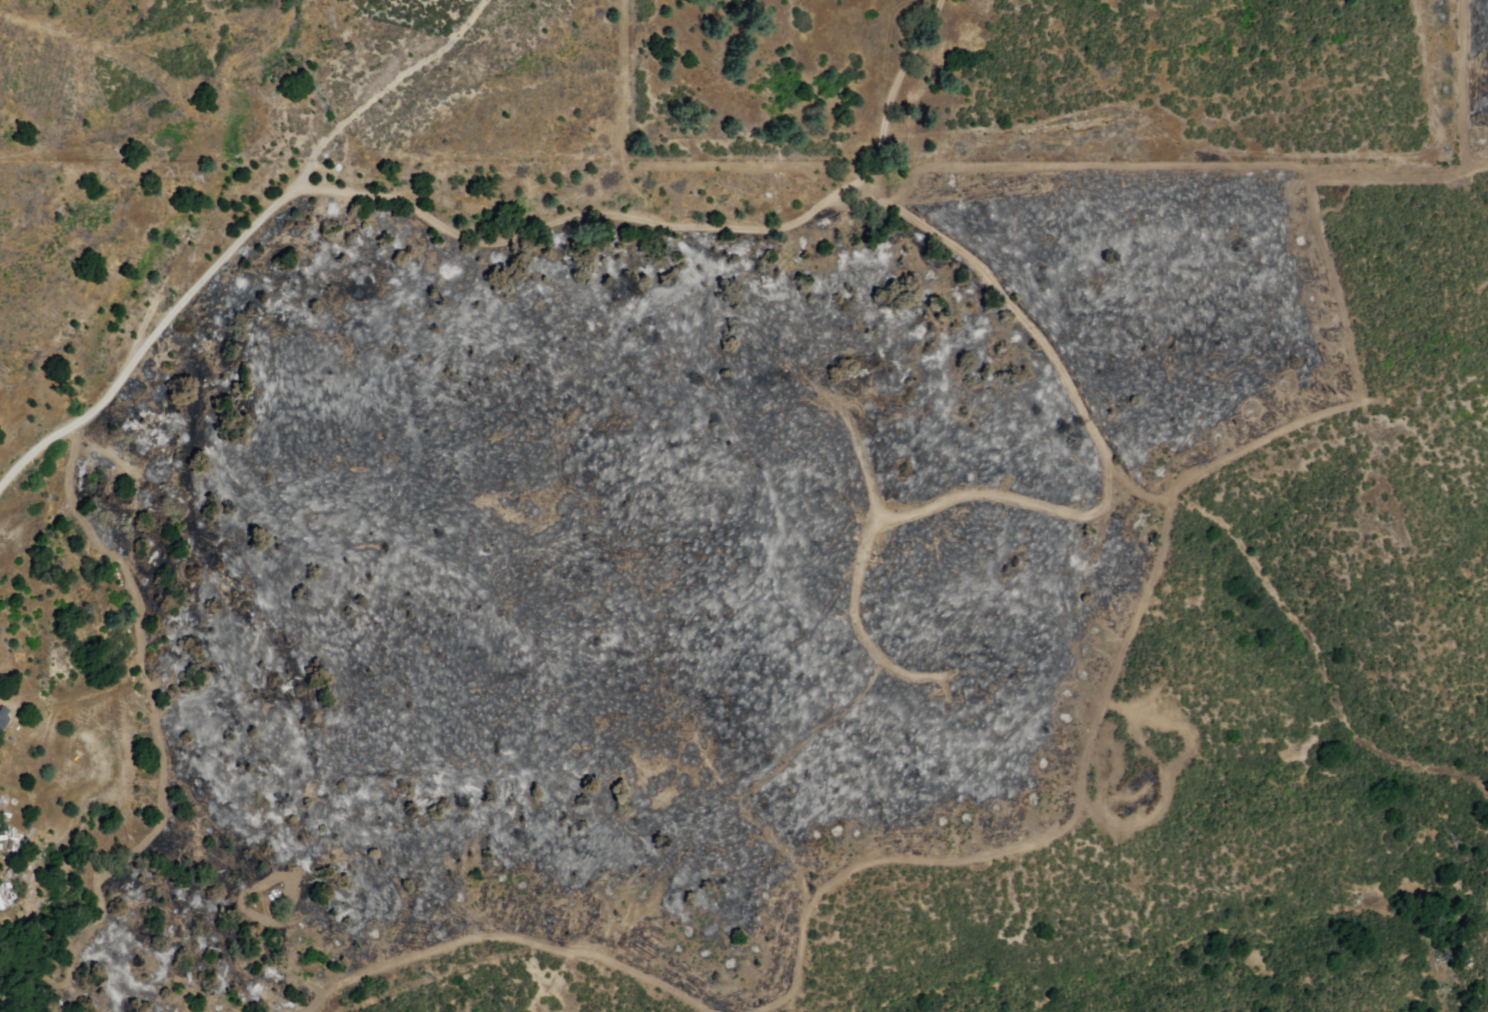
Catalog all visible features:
road: (469, 240)
building: (4, 718)
building: (3, 901)

